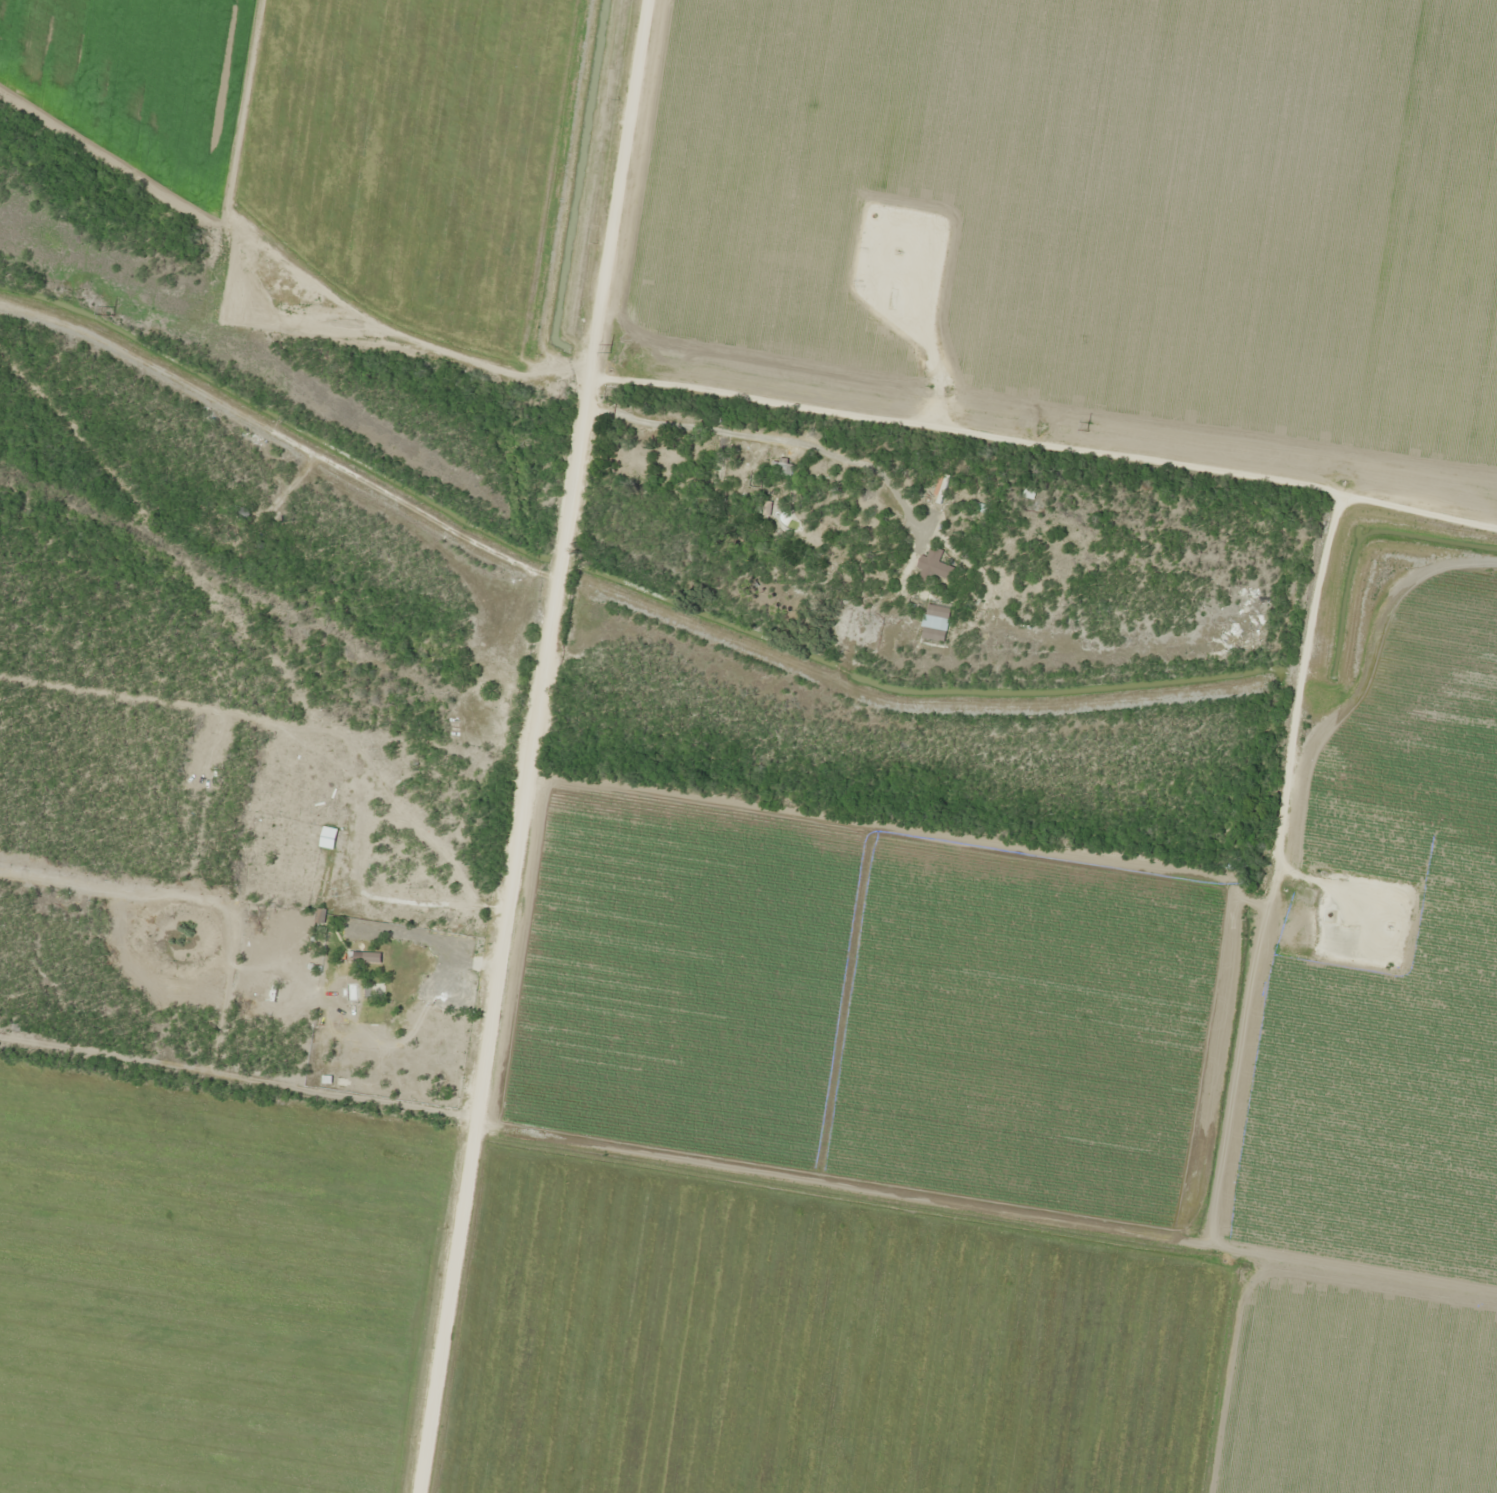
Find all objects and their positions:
power tower: (113, 312)
power tower: (609, 349)
power tower: (1087, 426)
building: (780, 478)
building: (238, 513)
road: (539, 745)
building: (318, 915)
building: (375, 989)

